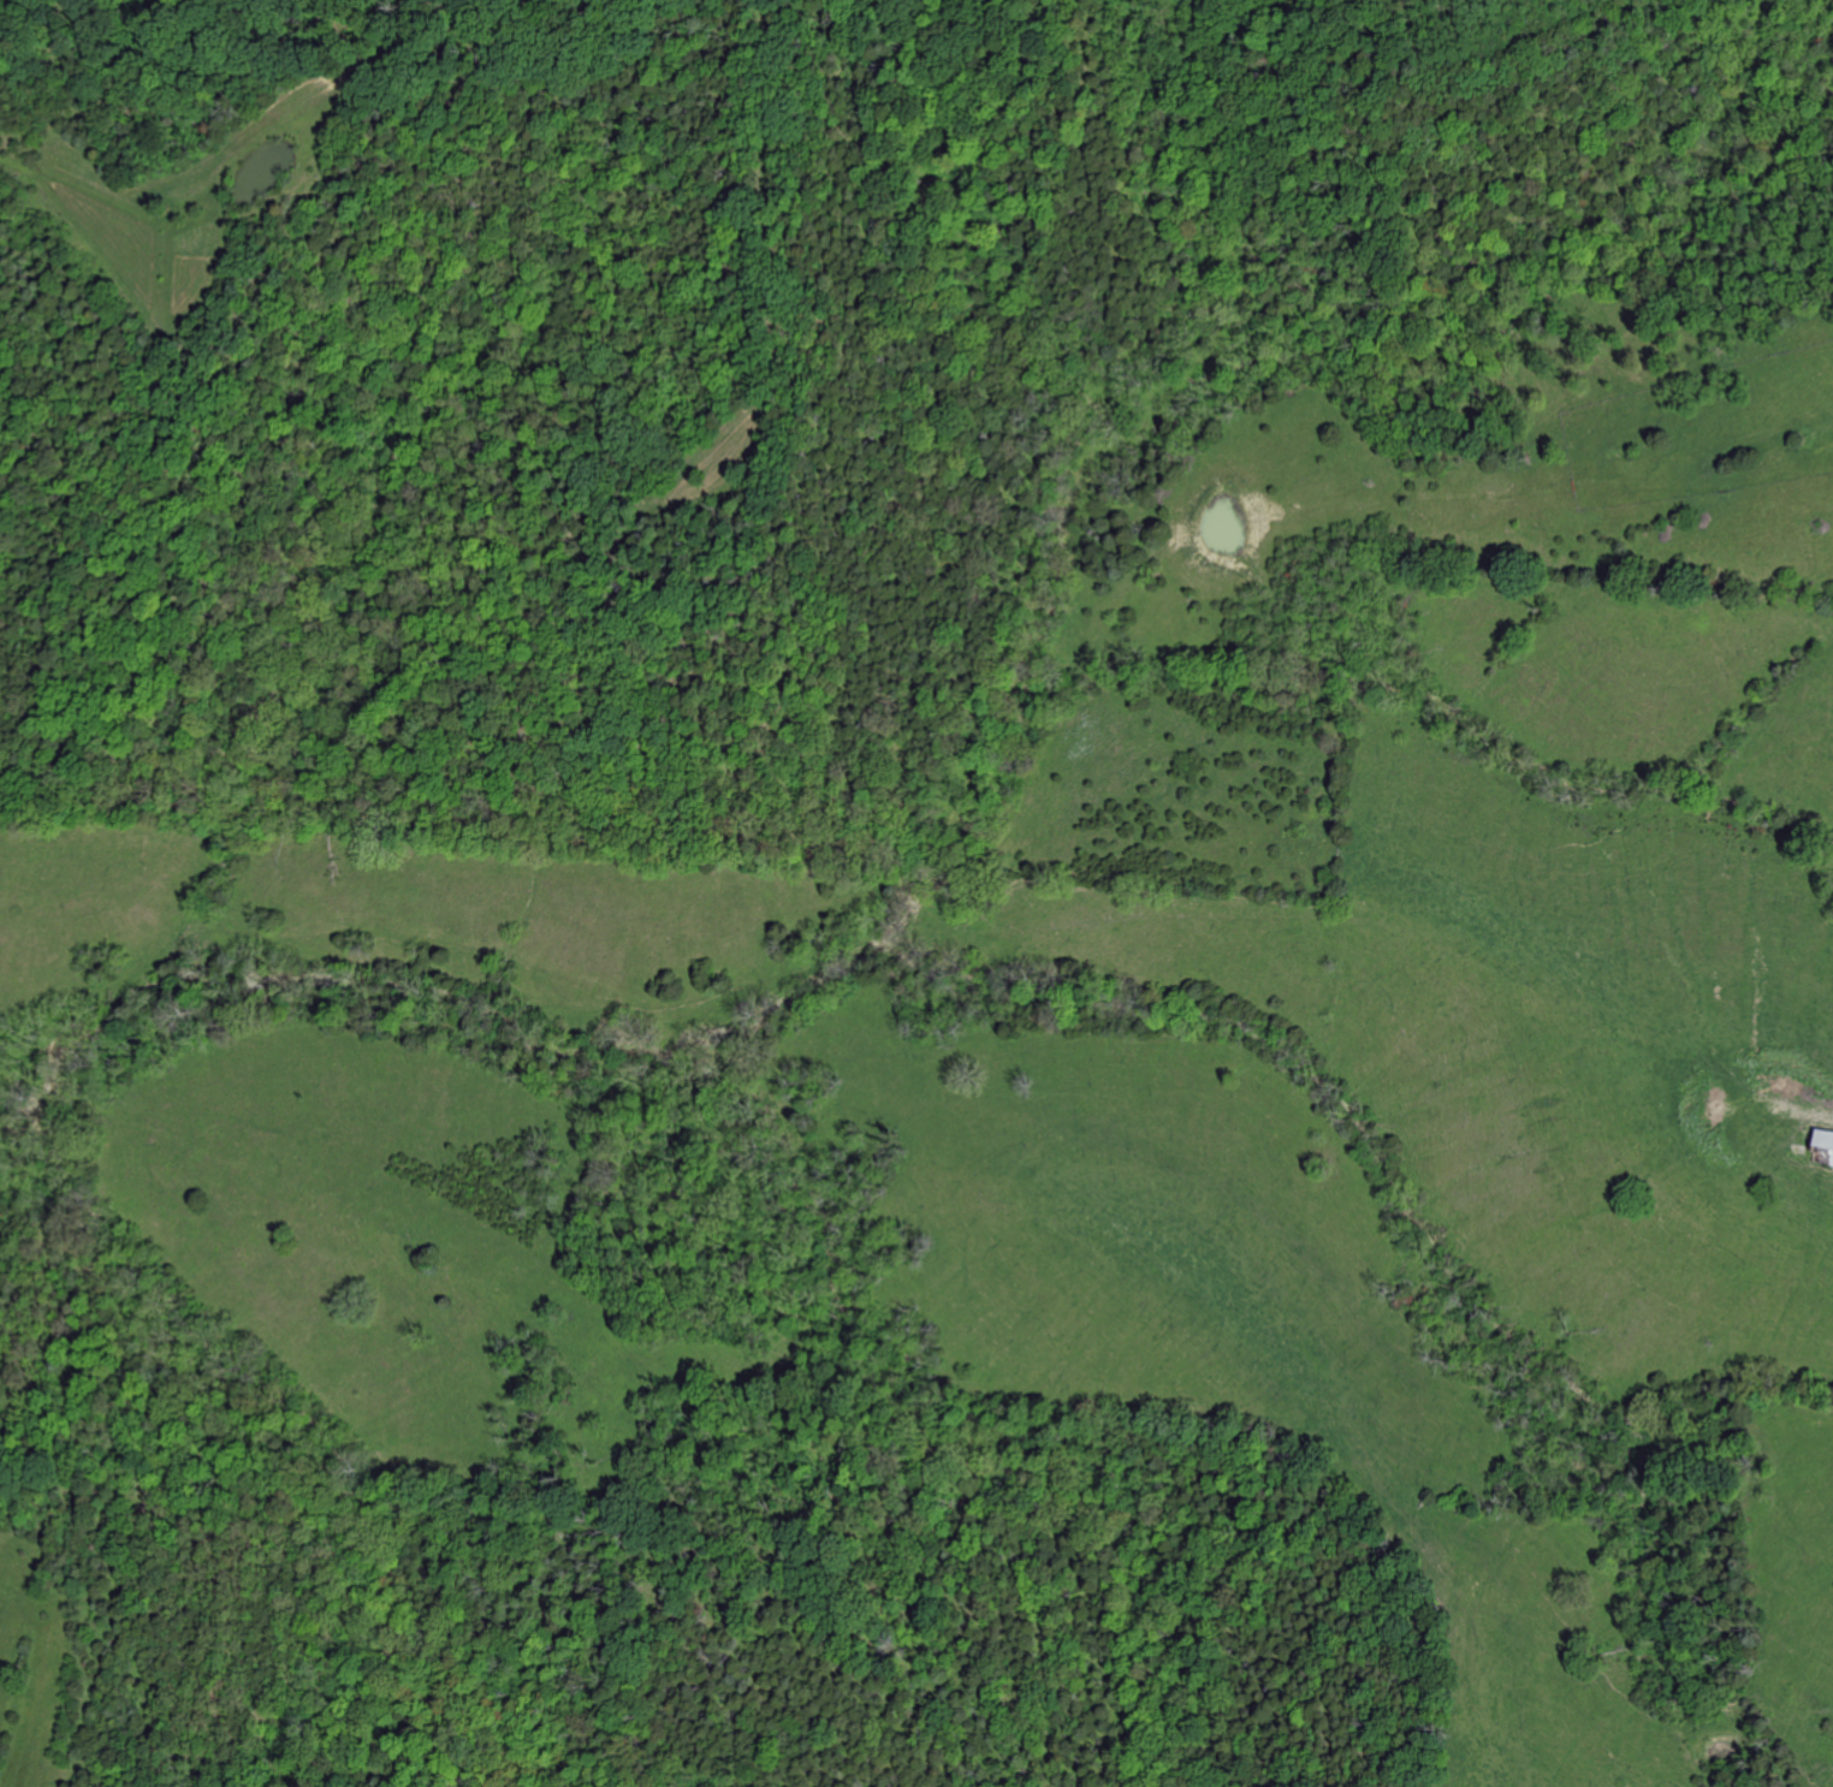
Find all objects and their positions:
building: (1820, 1146)

